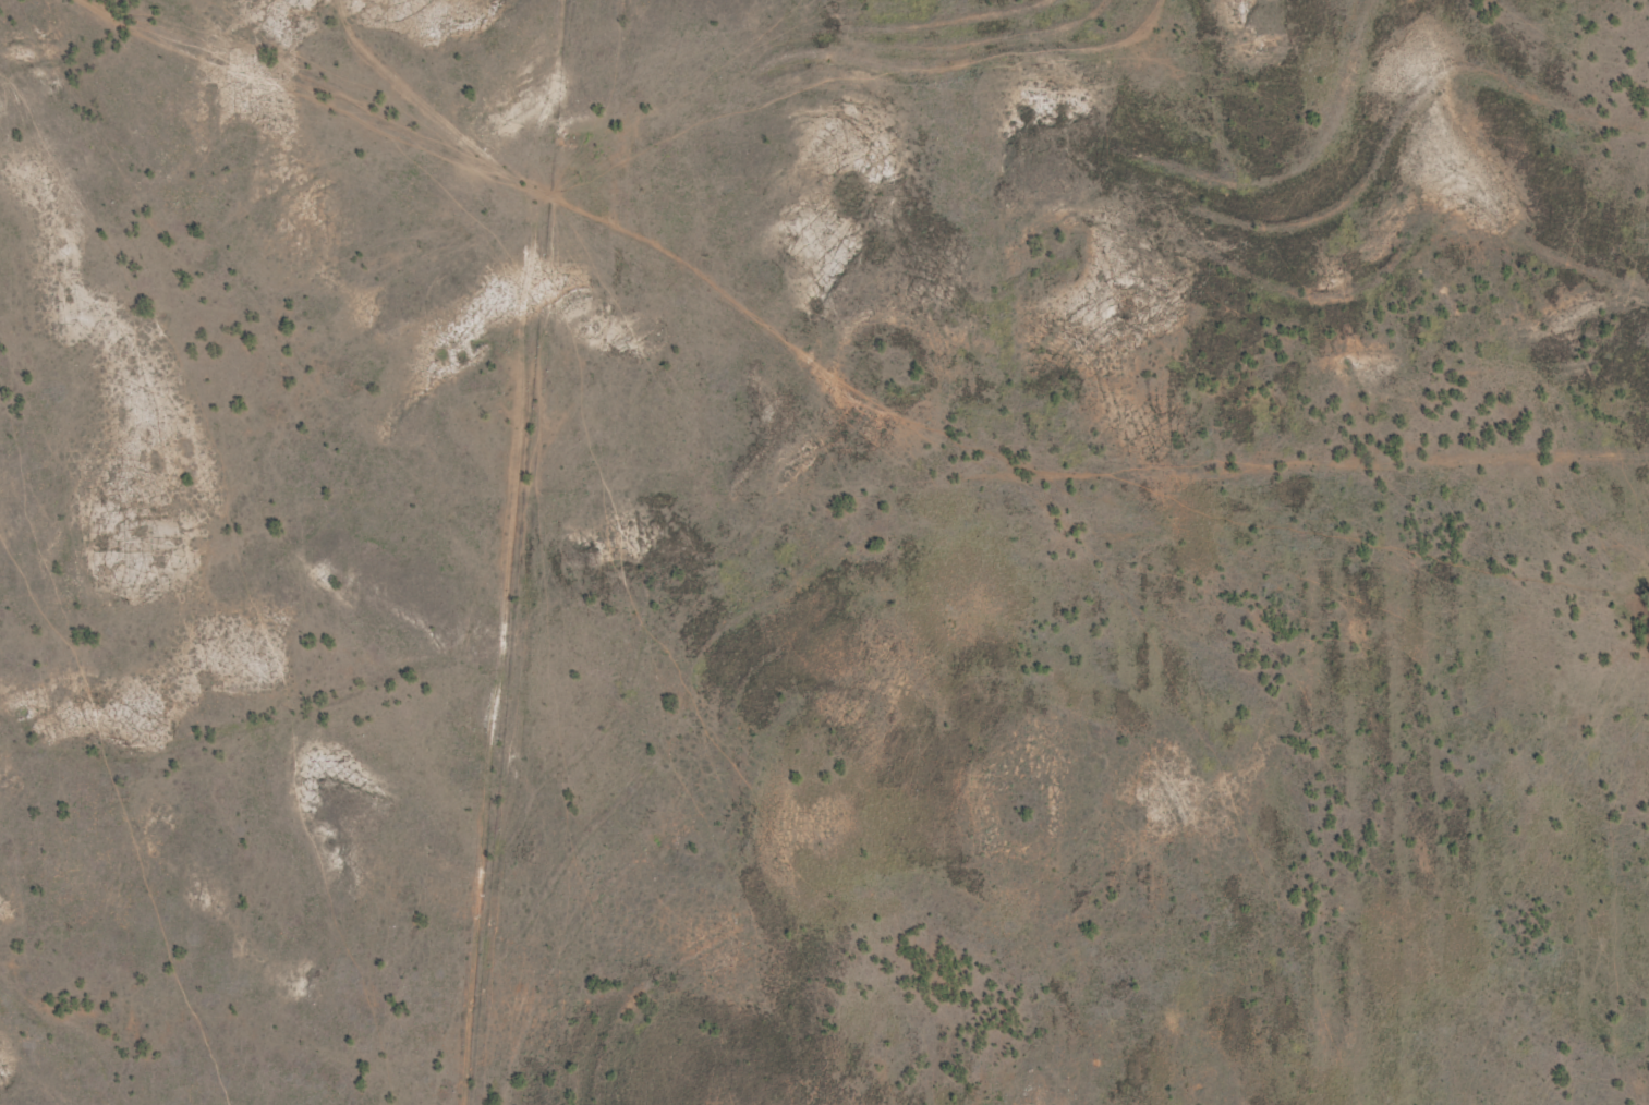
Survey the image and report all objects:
road: (539, 548)

